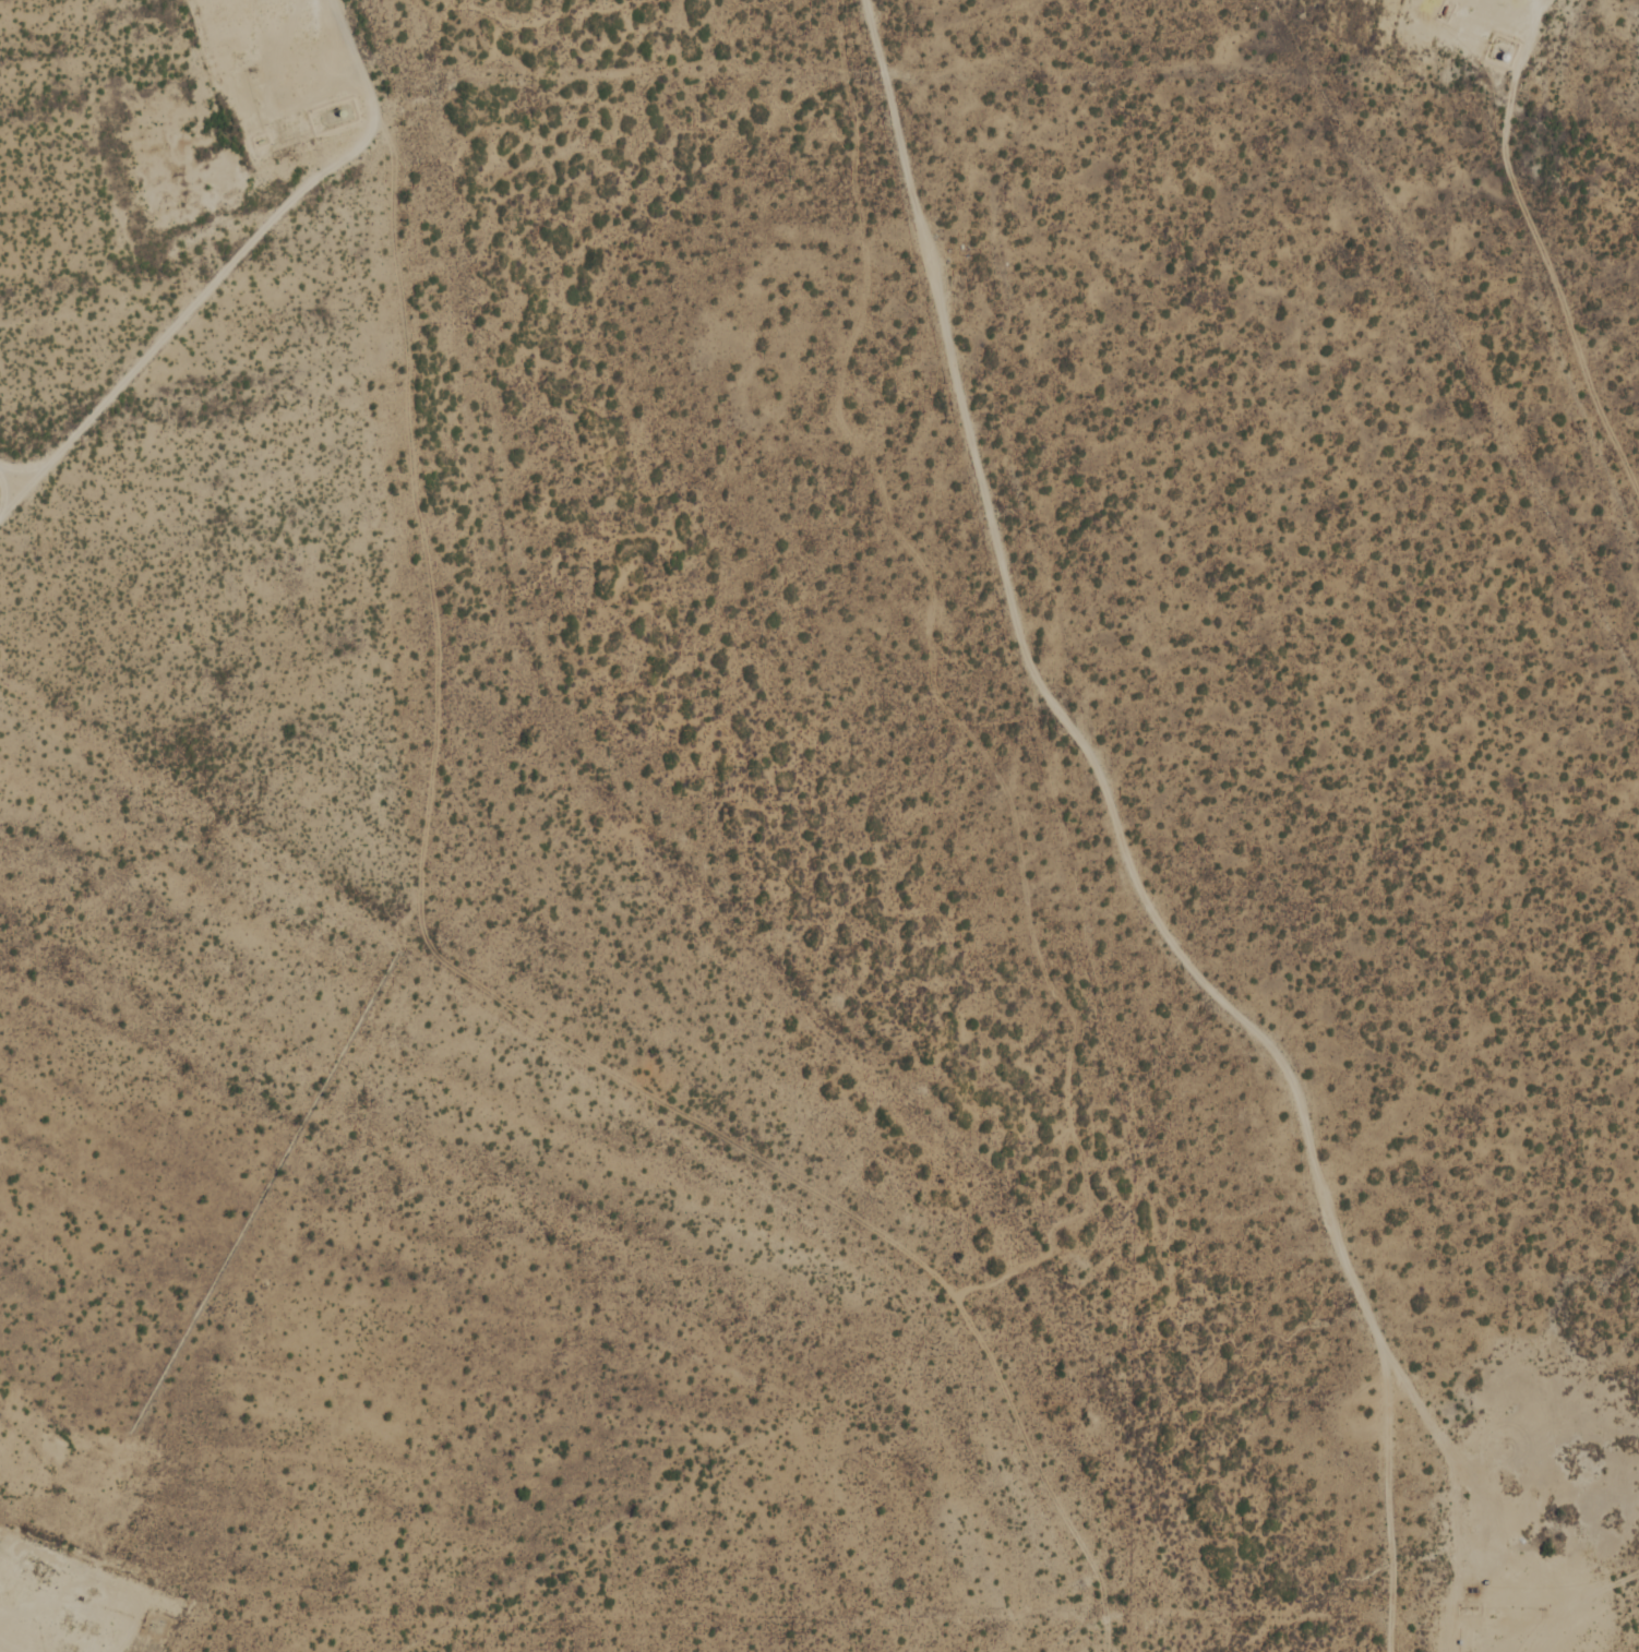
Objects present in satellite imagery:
road: (1542, 248)
road: (1094, 761)
road: (454, 969)
road: (1390, 1494)
road: (1569, 1612)

